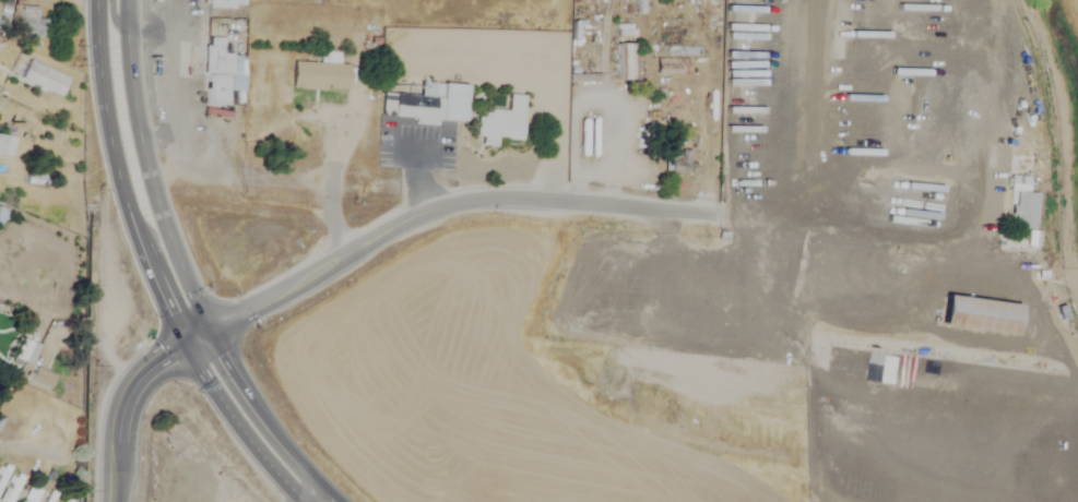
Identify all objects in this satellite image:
building: (225, 4)
crop: (1075, 8)
building: (901, 13)
road: (112, 15)
building: (31, 23)
building: (625, 62)
building: (671, 67)
building: (216, 73)
building: (319, 76)
building: (44, 79)
building: (926, 91)
building: (434, 103)
road: (134, 109)
road: (731, 116)
building: (834, 120)
building: (505, 121)
road: (107, 122)
building: (4, 143)
building: (683, 162)
road: (333, 174)
building: (1022, 203)
road: (446, 204)
road: (983, 251)
building: (986, 310)
building: (19, 349)
crop: (453, 362)
road: (233, 370)
building: (43, 378)
road: (210, 379)
road: (126, 394)
road: (32, 447)
crop: (1056, 452)
building: (3, 474)
building: (11, 489)
road: (306, 490)
building: (32, 495)
building: (70, 495)
building: (51, 497)

